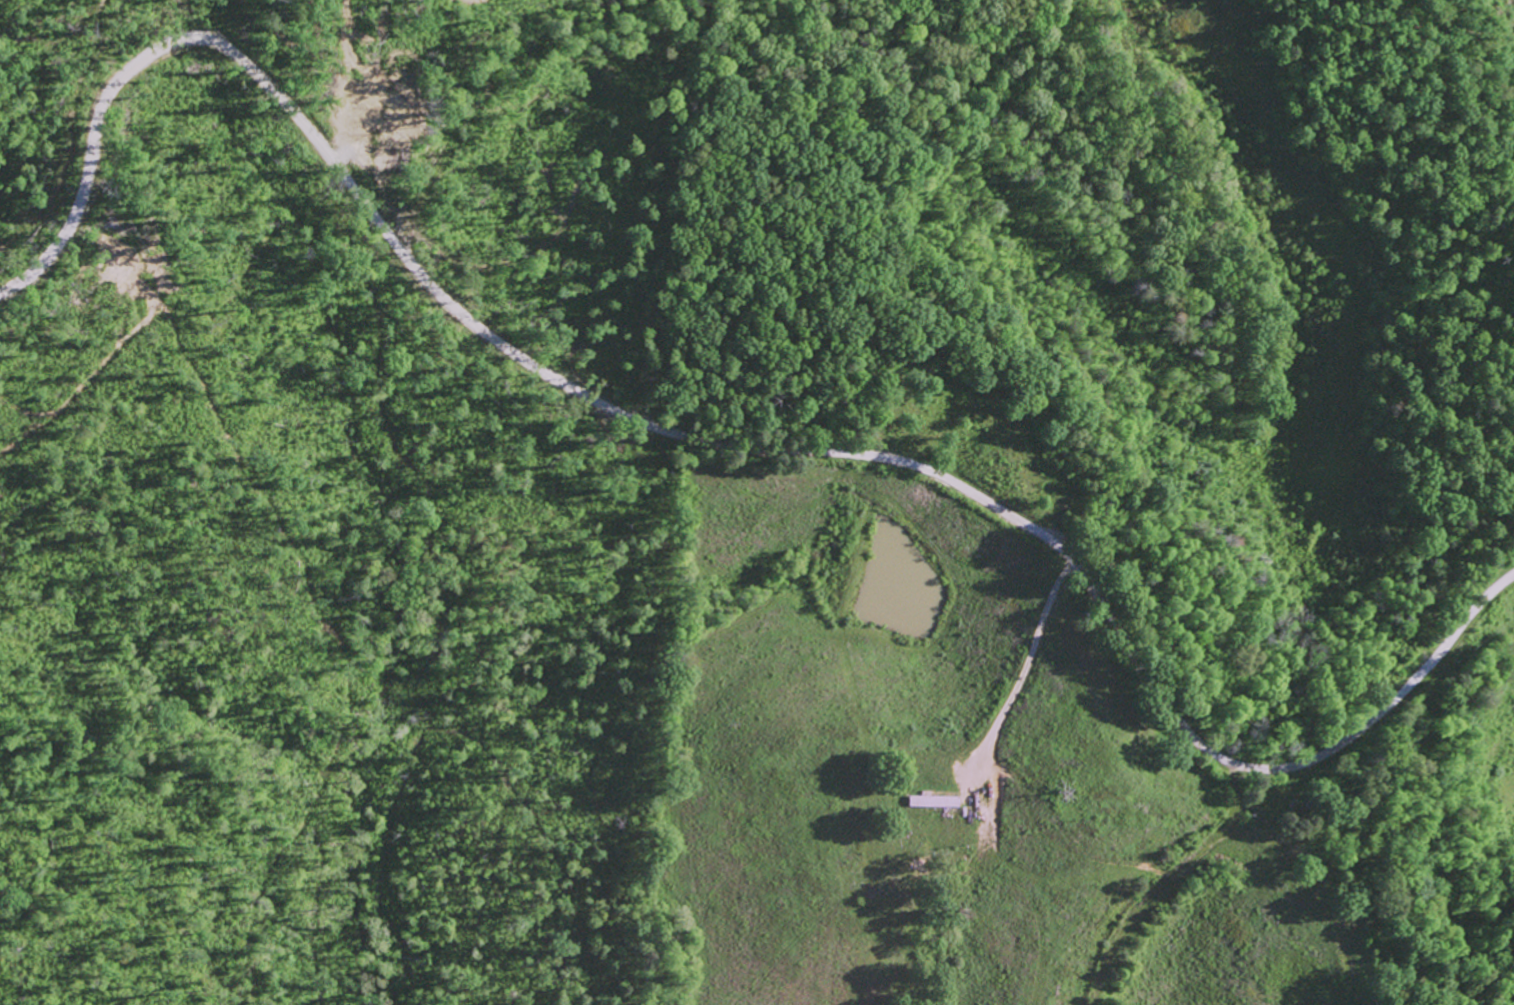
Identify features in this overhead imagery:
road: (709, 440)

